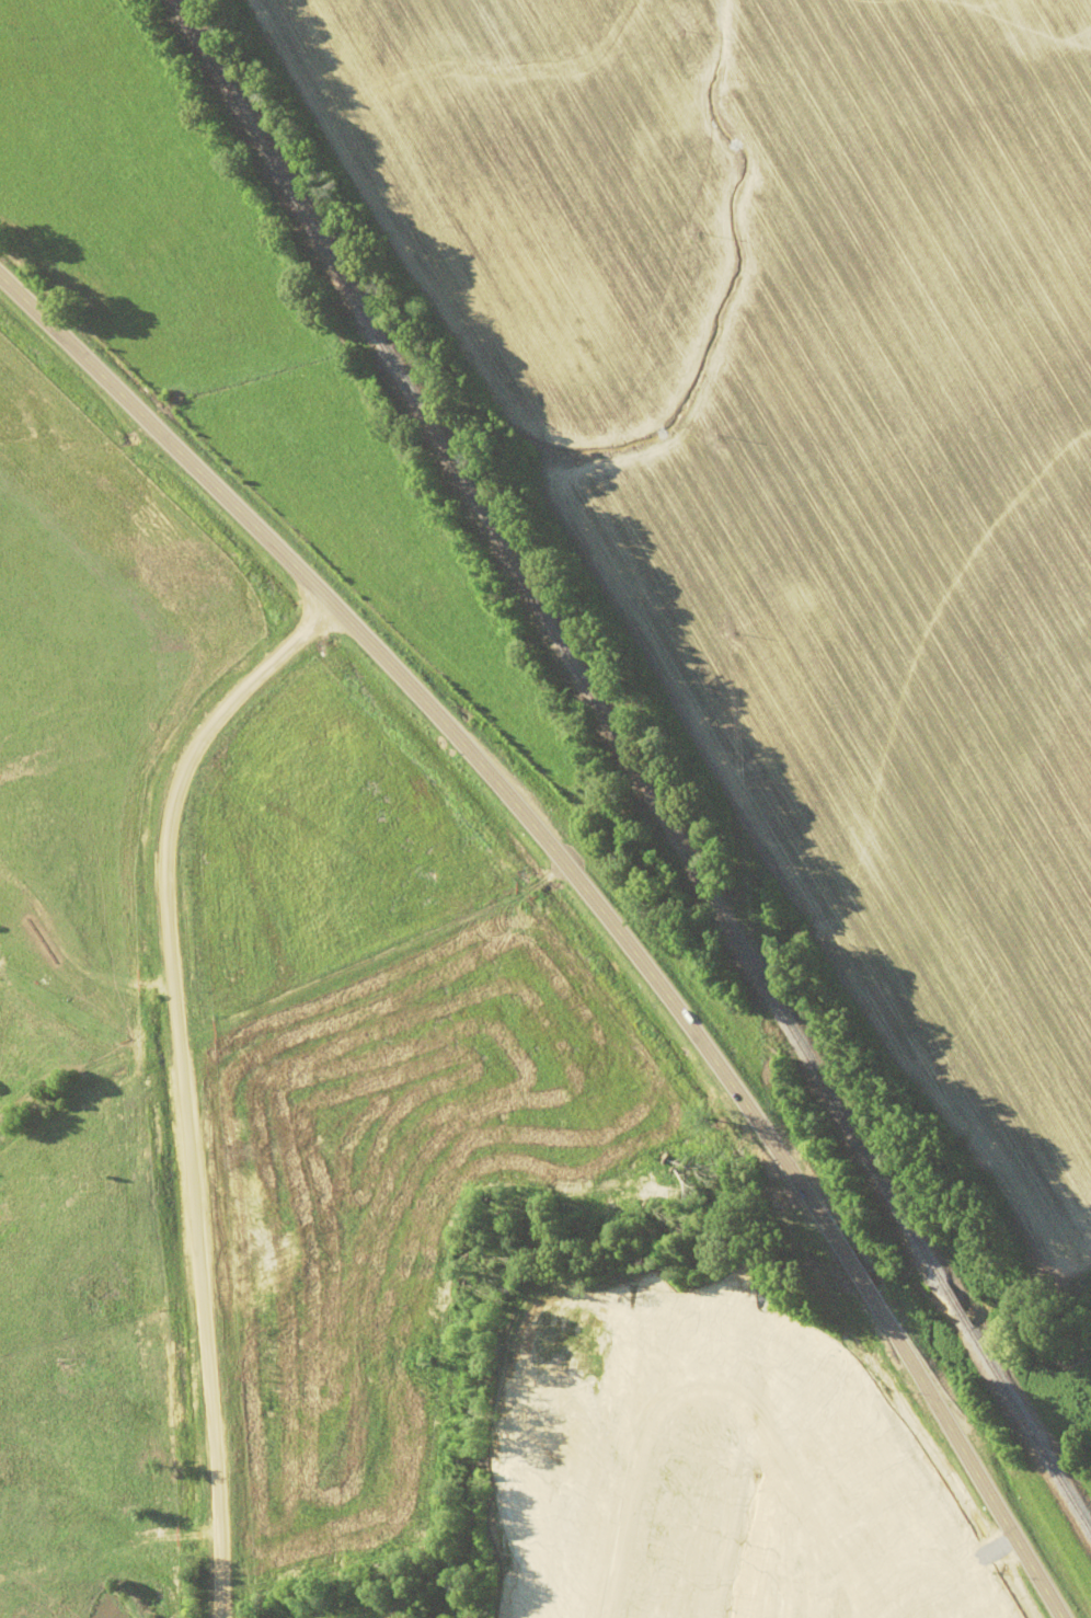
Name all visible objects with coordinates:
railway: (558, 640)
road: (457, 742)
road: (180, 1078)
road: (859, 1275)
railway: (955, 1306)
road: (721, 1390)
railway: (1030, 1432)
road: (964, 1456)
road: (944, 1579)

